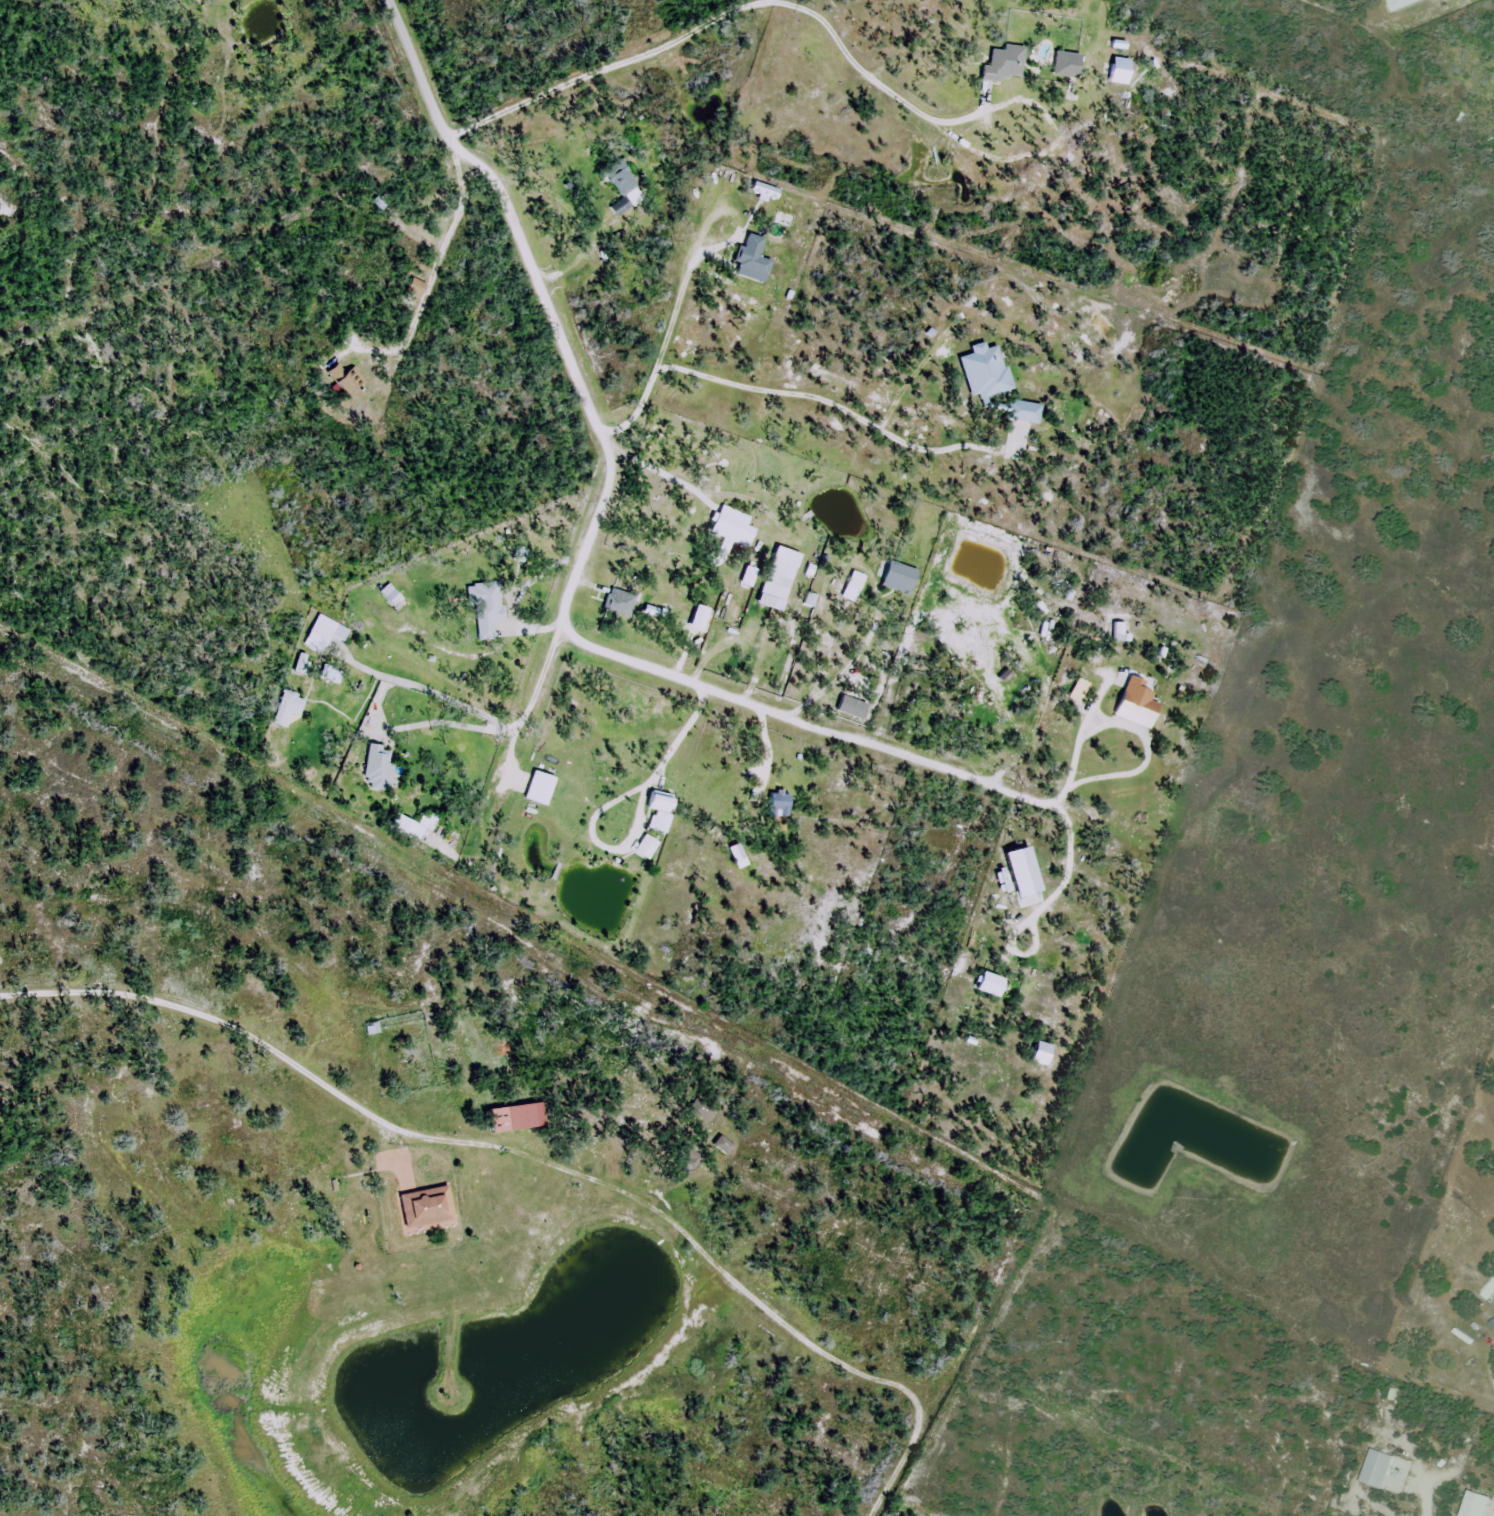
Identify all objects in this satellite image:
road: (393, 9)
road: (724, 14)
building: (1003, 63)
building: (1063, 64)
building: (1119, 71)
road: (420, 78)
building: (621, 184)
building: (784, 216)
building: (751, 255)
road: (656, 350)
building: (343, 382)
road: (831, 402)
road: (606, 460)
building: (731, 527)
building: (898, 578)
building: (747, 579)
building: (775, 585)
building: (853, 587)
building: (392, 595)
building: (614, 601)
building: (488, 603)
building: (1118, 632)
building: (326, 633)
building: (1134, 703)
building: (289, 709)
road: (847, 734)
building: (380, 767)
building: (538, 790)
building: (778, 804)
building: (661, 809)
building: (415, 825)
building: (650, 847)
building: (431, 944)
building: (984, 984)
road: (223, 1028)
building: (374, 1028)
building: (705, 1108)
building: (517, 1118)
building: (430, 1207)

